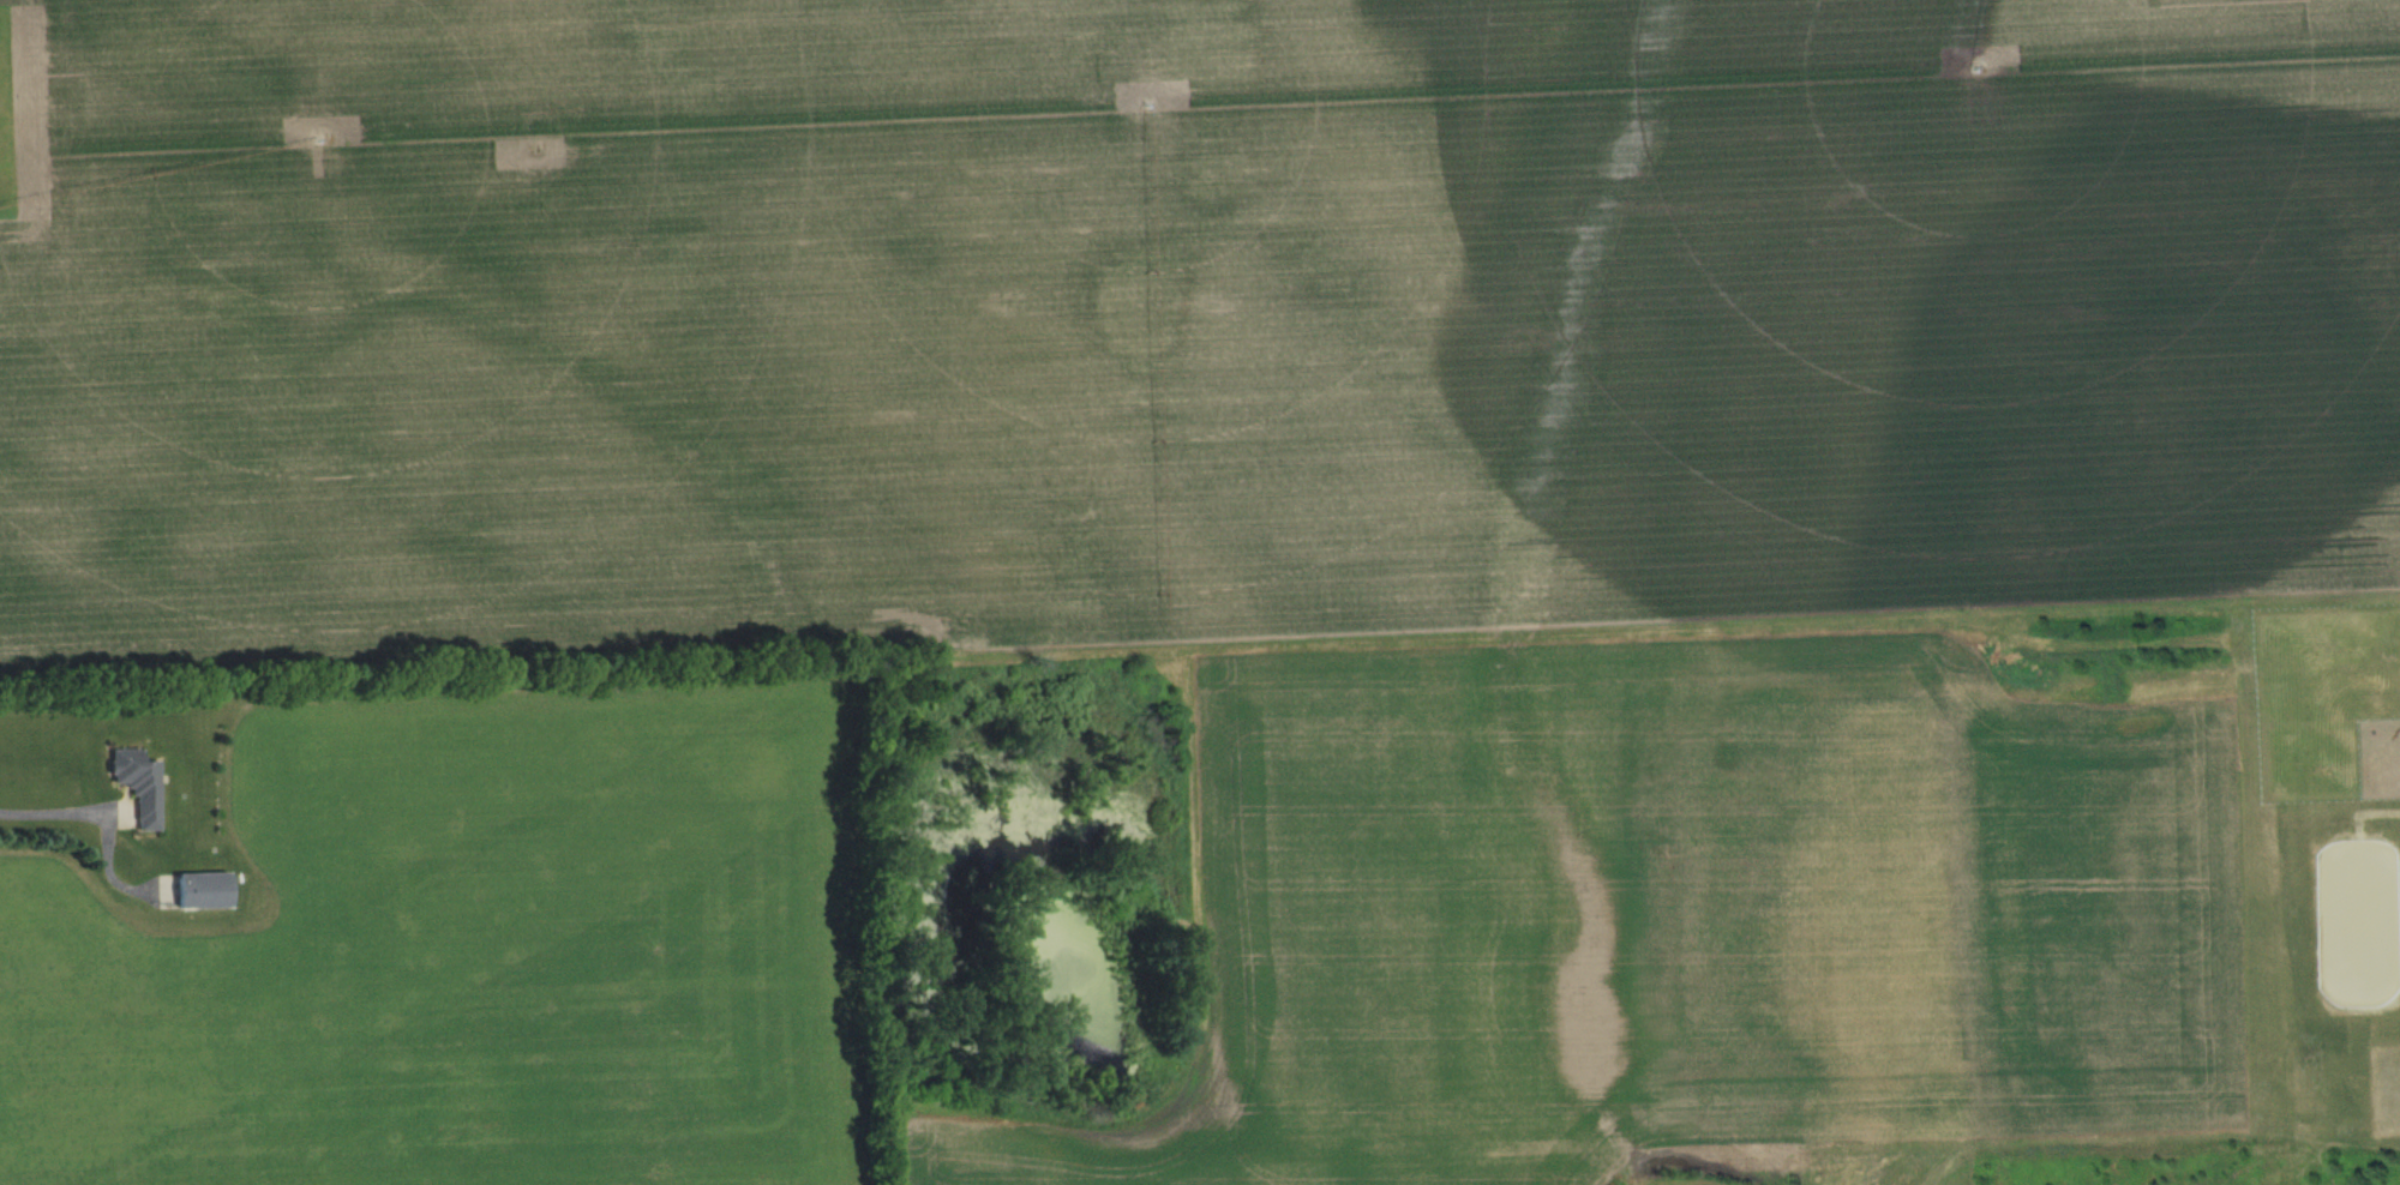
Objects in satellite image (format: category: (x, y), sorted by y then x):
crop: (1181, 320)
building: (142, 788)
road: (53, 804)
building: (208, 894)
crop: (1392, 919)
crop: (482, 944)

